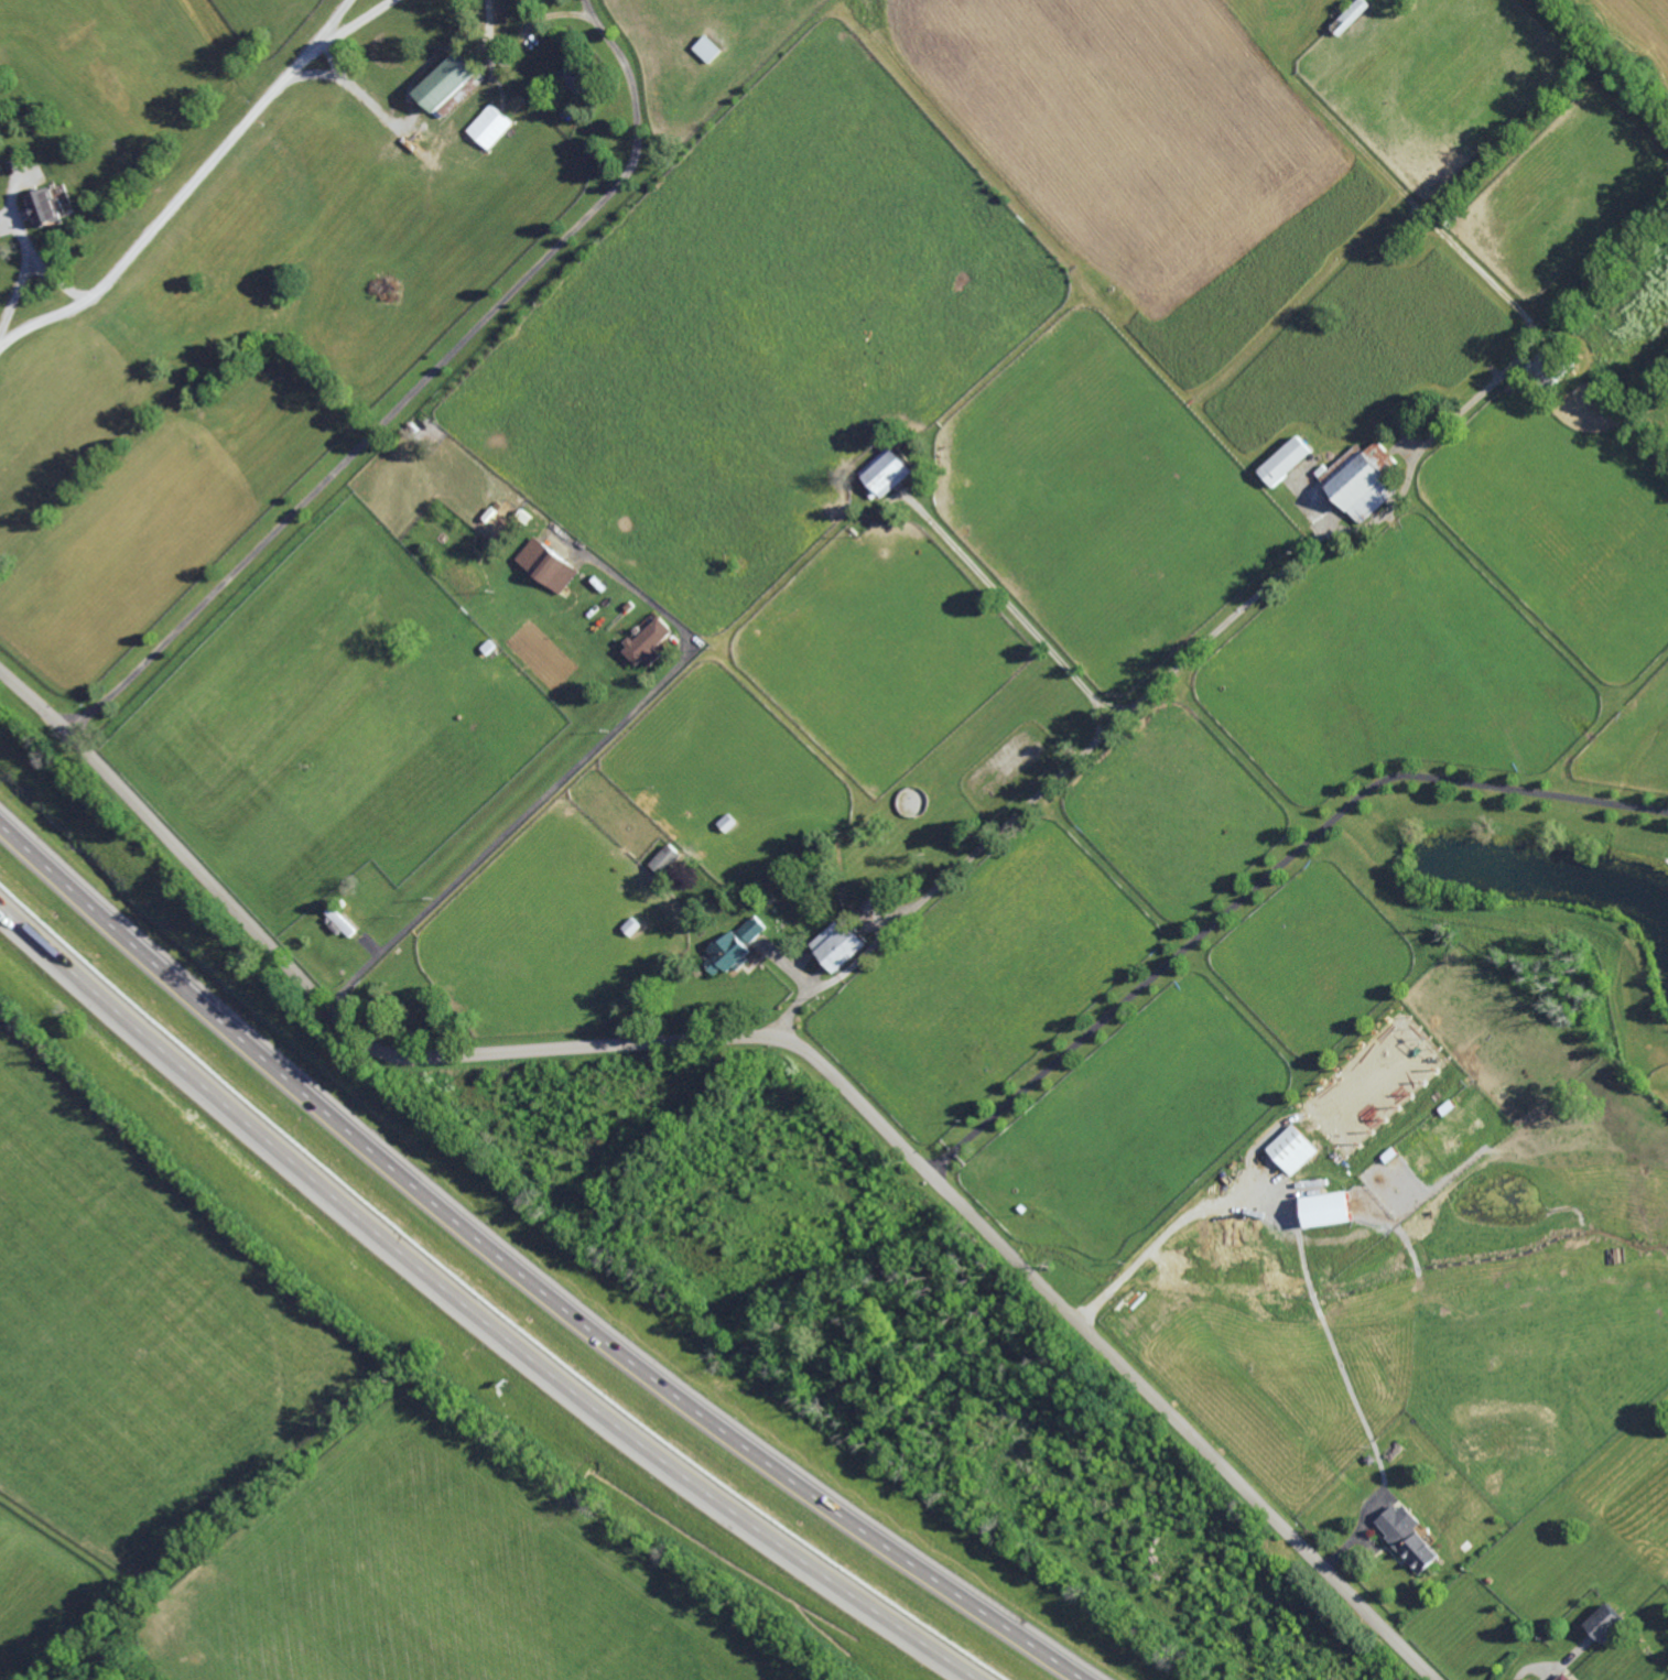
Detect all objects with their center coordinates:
building: (1350, 14)
road: (333, 23)
road: (355, 24)
building: (708, 50)
road: (318, 75)
building: (578, 83)
building: (451, 87)
road: (358, 91)
building: (1334, 99)
building: (1313, 119)
building: (487, 131)
building: (51, 202)
road: (170, 210)
building: (1450, 217)
road: (26, 265)
building: (223, 337)
road: (418, 388)
building: (1284, 462)
building: (886, 472)
building: (1362, 480)
building: (548, 564)
building: (635, 615)
building: (649, 640)
building: (488, 647)
road: (570, 770)
building: (873, 810)
building: (924, 841)
building: (667, 859)
building: (805, 869)
road: (1265, 880)
building: (340, 902)
building: (338, 921)
building: (841, 943)
building: (734, 945)
building: (399, 994)
road: (768, 1037)
building: (1293, 1149)
building: (1329, 1208)
road: (1162, 1238)
road: (521, 1275)
road: (474, 1311)
building: (1371, 1460)
building: (1408, 1539)
building: (1467, 1547)
building: (1606, 1621)
road: (1534, 1667)
building: (1563, 1676)

